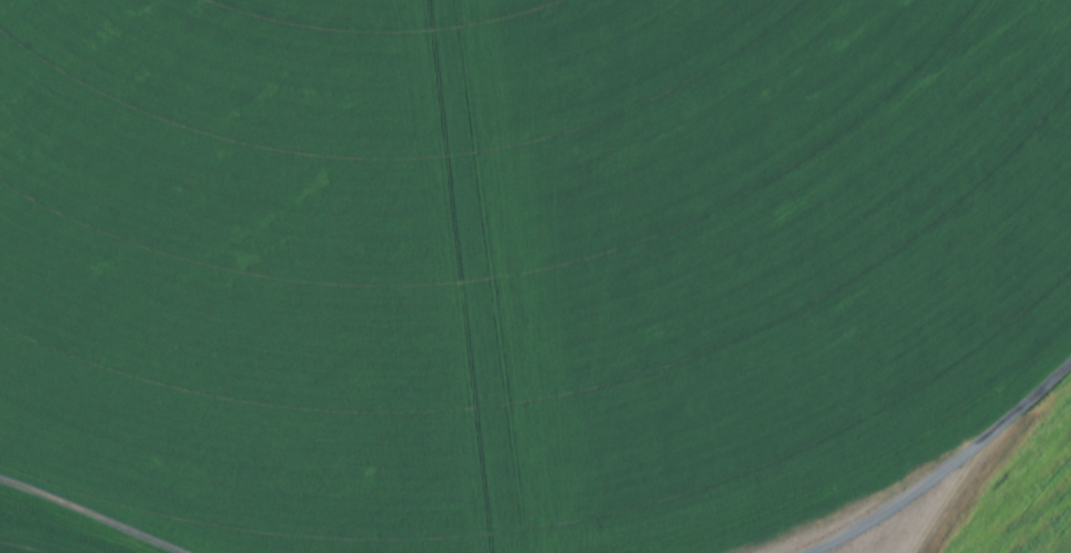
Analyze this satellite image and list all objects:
road: (925, 438)
road: (81, 524)

